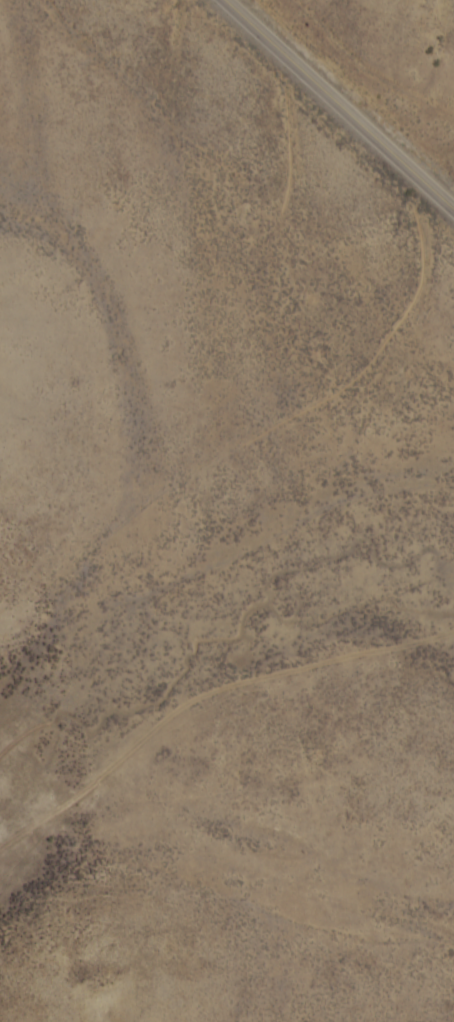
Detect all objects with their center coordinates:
road: (341, 103)
river: (230, 599)

